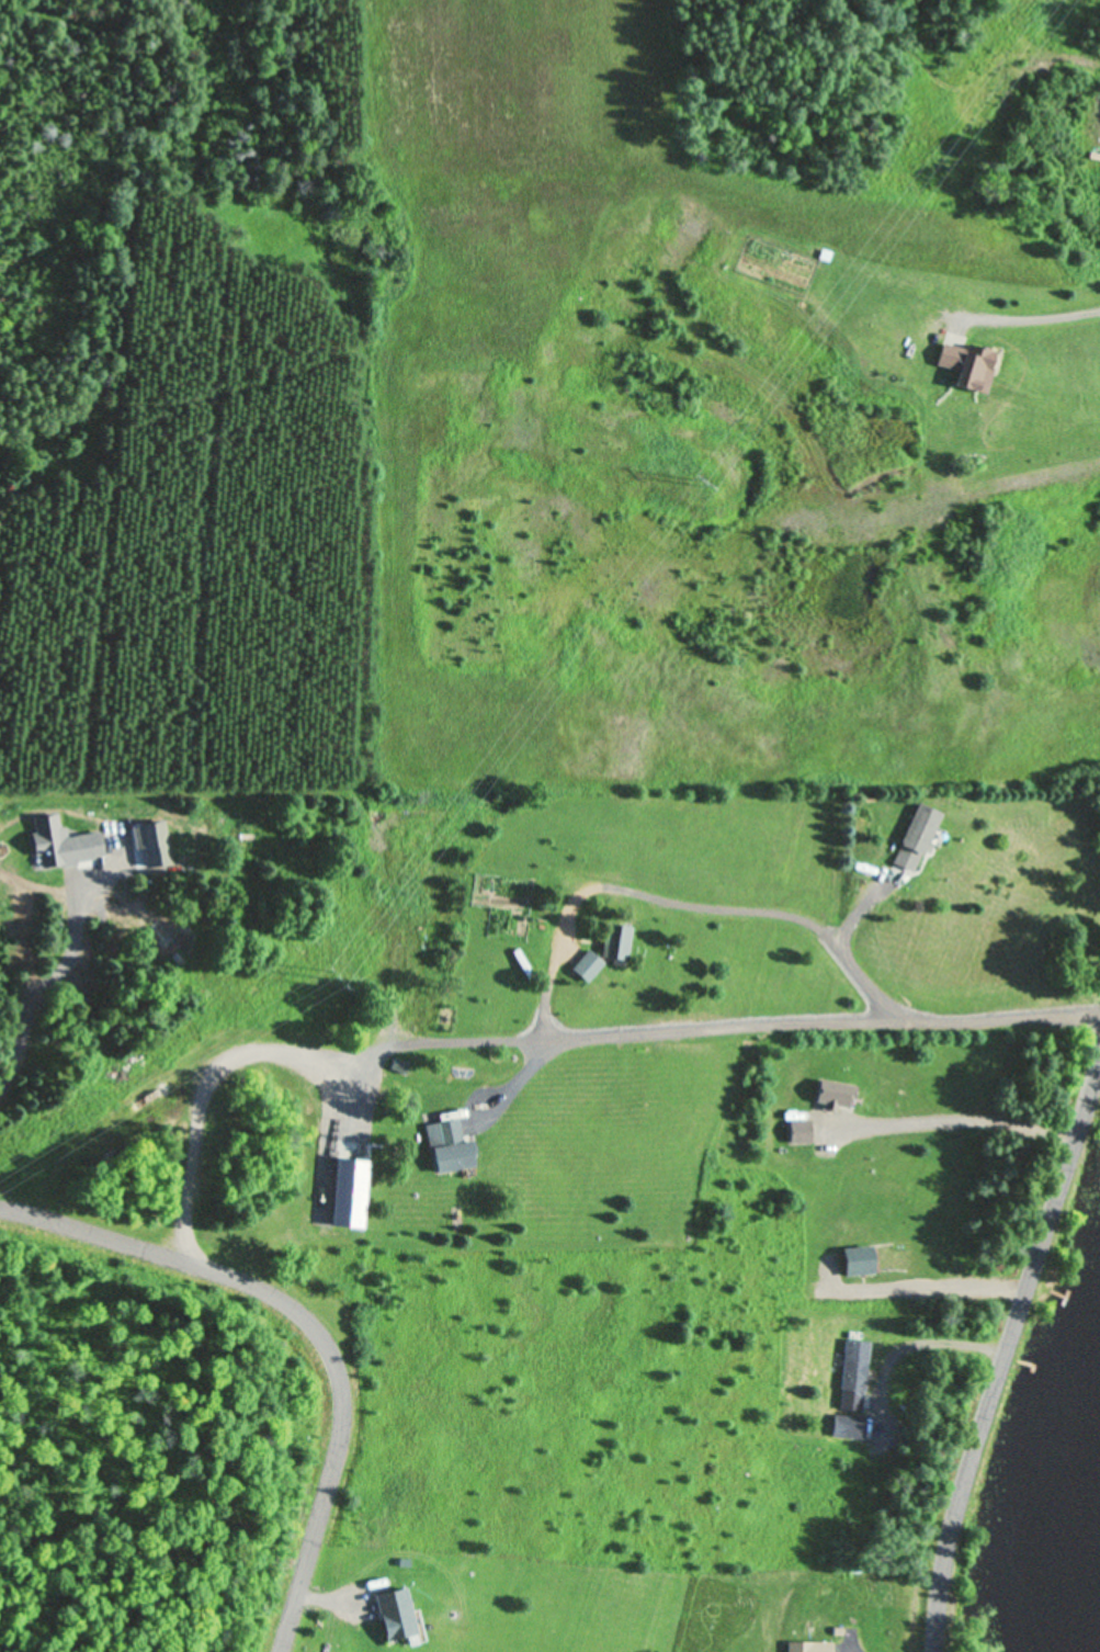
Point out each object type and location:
building: (965, 366)
power tower: (694, 483)
building: (914, 839)
building: (614, 944)
building: (585, 969)
power tower: (332, 980)
building: (398, 1068)
building: (833, 1098)
building: (798, 1134)
building: (449, 1149)
building: (857, 1263)
road: (313, 1327)
road: (1003, 1338)
building: (853, 1377)
building: (394, 1617)
building: (807, 1648)

